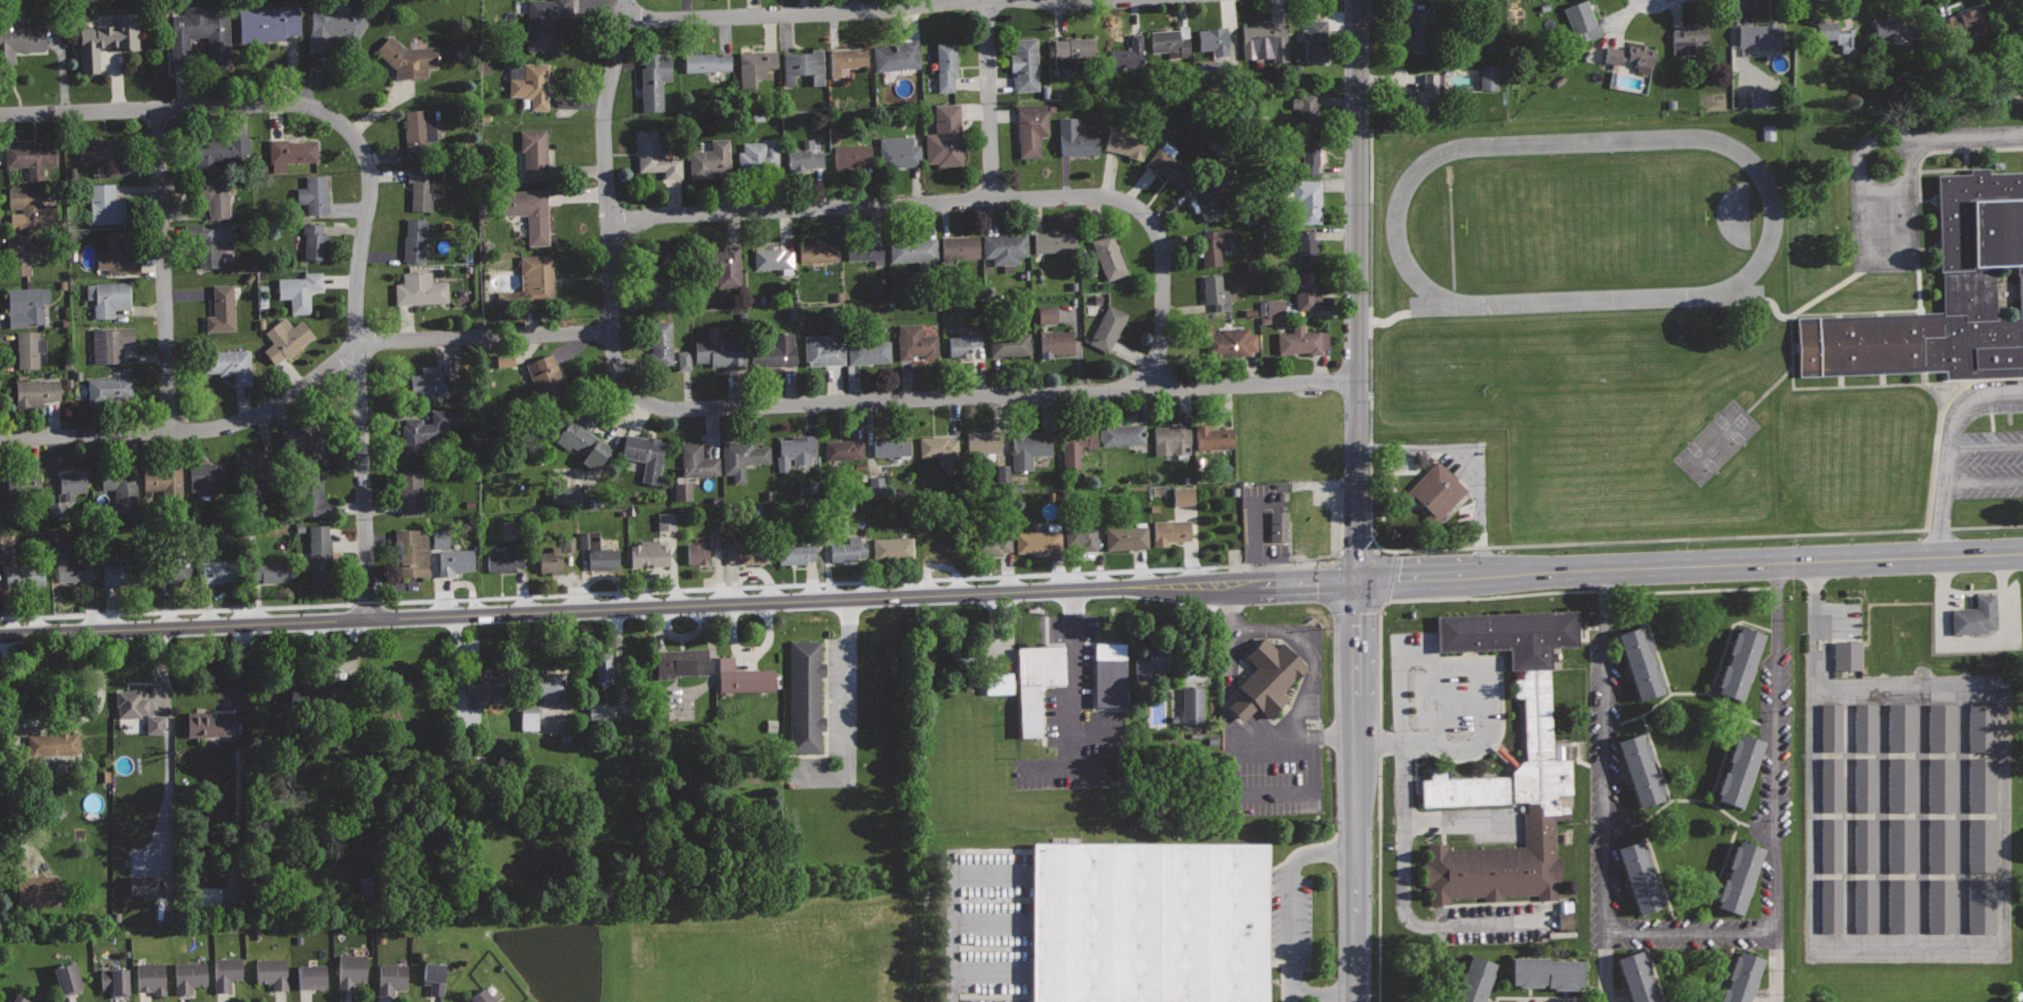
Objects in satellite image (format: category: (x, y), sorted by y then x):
road: (1101, 0)
road: (793, 13)
building: (1583, 21)
building: (1970, 21)
building: (267, 22)
building: (544, 23)
building: (333, 24)
building: (1895, 29)
building: (1419, 32)
building: (1760, 34)
building: (1831, 34)
building: (22, 35)
building: (201, 37)
building: (108, 39)
building: (1316, 39)
building: (1688, 39)
building: (1171, 40)
building: (1214, 40)
building: (1265, 42)
building: (1072, 51)
building: (1129, 54)
building: (897, 55)
building: (1631, 56)
building: (409, 58)
building: (848, 58)
building: (706, 61)
building: (1025, 64)
building: (755, 66)
building: (804, 66)
building: (946, 66)
building: (1488, 77)
building: (654, 79)
building: (530, 82)
building: (1428, 93)
building: (1761, 98)
road: (989, 99)
road: (176, 107)
building: (1306, 107)
building: (1032, 128)
building: (420, 129)
building: (1767, 132)
road: (1968, 135)
building: (946, 136)
building: (1076, 138)
road: (1902, 140)
building: (1125, 143)
road: (1869, 143)
building: (223, 150)
building: (899, 151)
building: (292, 152)
building: (1307, 152)
building: (102, 153)
building: (535, 153)
building: (656, 155)
building: (30, 156)
building: (759, 156)
building: (852, 157)
building: (804, 158)
building: (710, 159)
building: (1167, 165)
building: (425, 186)
building: (314, 194)
building: (218, 197)
building: (1205, 199)
road: (968, 200)
building: (1307, 201)
road: (608, 202)
parking lot: (1884, 203)
building: (105, 204)
building: (31, 205)
building: (529, 212)
road: (1772, 219)
track: (1772, 219)
building: (415, 239)
building: (314, 240)
building: (207, 241)
building: (1055, 242)
building: (1216, 244)
building: (1005, 247)
building: (1309, 247)
building: (959, 248)
building: (914, 249)
building: (818, 251)
building: (866, 252)
building: (21, 253)
building: (117, 254)
building: (1109, 256)
building: (774, 259)
road: (1886, 260)
building: (723, 267)
road: (164, 269)
building: (532, 280)
building: (660, 286)
building: (421, 288)
building: (300, 290)
building: (1306, 291)
road: (1358, 291)
building: (1215, 292)
building: (1984, 294)
building: (108, 296)
building: (26, 304)
building: (222, 307)
building: (1274, 308)
building: (1046, 315)
building: (1108, 328)
building: (287, 338)
building: (1303, 339)
building: (965, 341)
building: (916, 342)
building: (1010, 342)
building: (1230, 342)
building: (111, 343)
building: (661, 343)
building: (1056, 343)
building: (29, 347)
building: (720, 349)
building: (823, 350)
building: (776, 351)
building: (869, 351)
building: (503, 360)
building: (682, 360)
building: (230, 364)
road: (358, 368)
building: (431, 380)
building: (548, 381)
road: (307, 384)
building: (109, 388)
building: (37, 391)
road: (999, 395)
building: (428, 429)
building: (1123, 434)
building: (1213, 437)
building: (311, 438)
building: (583, 438)
building: (1171, 440)
building: (984, 441)
park: (1714, 442)
building: (1076, 444)
building: (891, 447)
building: (1030, 448)
building: (844, 449)
parking lot: (1978, 449)
road: (1986, 449)
building: (796, 451)
building: (942, 451)
road: (1949, 452)
building: (645, 454)
building: (743, 458)
building: (698, 461)
building: (256, 462)
road: (1470, 465)
building: (206, 478)
building: (165, 480)
road: (1984, 480)
building: (120, 482)
building: (73, 483)
building: (22, 485)
building: (876, 485)
building: (1437, 489)
building: (411, 490)
building: (682, 491)
building: (311, 495)
building: (569, 495)
building: (1183, 496)
building: (665, 521)
building: (1280, 525)
building: (1171, 531)
building: (1081, 536)
building: (714, 538)
building: (1127, 538)
building: (438, 539)
road: (1259, 540)
building: (1039, 541)
building: (994, 543)
building: (568, 544)
building: (940, 545)
building: (893, 547)
building: (848, 548)
building: (320, 549)
building: (412, 552)
building: (598, 552)
building: (698, 552)
building: (748, 552)
building: (649, 553)
building: (796, 553)
building: (552, 558)
building: (505, 559)
building: (456, 561)
building: (74, 566)
building: (220, 571)
building: (271, 571)
building: (172, 572)
building: (122, 574)
building: (25, 575)
road: (1011, 591)
building: (1976, 616)
parking lot: (2008, 620)
road: (1231, 642)
road: (1971, 642)
road: (1308, 655)
building: (1848, 655)
building: (962, 659)
building: (1642, 659)
building: (1742, 659)
building: (681, 662)
building: (1151, 663)
road: (1451, 665)
building: (604, 668)
building: (1112, 672)
building: (744, 677)
building: (1267, 678)
road: (1074, 679)
building: (1036, 681)
building: (486, 682)
building: (998, 683)
building: (544, 685)
building: (805, 694)
building: (306, 697)
building: (131, 703)
road: (1440, 704)
building: (1192, 705)
parking lot: (823, 707)
road: (844, 710)
building: (596, 712)
building: (527, 717)
parking lot: (1271, 717)
parking lot: (1076, 718)
building: (208, 724)
building: (1831, 726)
building: (1866, 726)
building: (1943, 727)
building: (1984, 727)
building: (1902, 728)
road: (1298, 739)
building: (57, 742)
road: (1777, 748)
road: (1605, 751)
building: (1941, 755)
building: (1540, 759)
building: (1642, 764)
building: (1741, 766)
road: (1097, 769)
parking lot: (1402, 781)
building: (1834, 784)
building: (1903, 784)
building: (1945, 784)
building: (1984, 784)
building: (1865, 785)
road: (1358, 792)
road: (1251, 797)
parking lot: (1903, 807)
building: (1940, 815)
road: (1461, 819)
building: (1834, 845)
building: (1865, 845)
building: (1903, 845)
building: (1943, 845)
building: (1984, 845)
building: (1643, 872)
road: (990, 873)
building: (1742, 873)
building: (141, 886)
building: (35, 891)
building: (202, 897)
road: (1291, 898)
building: (1833, 904)
building: (1983, 904)
road: (1405, 905)
building: (1903, 905)
building: (1943, 905)
building: (1866, 906)
building: (1565, 920)
road: (990, 923)
parking lot: (990, 924)
building: (1154, 925)
road: (951, 928)
parking lot: (1297, 928)
road: (1691, 933)
road: (1938, 946)
road: (1607, 967)
road: (1776, 967)
building: (352, 969)
building: (1548, 969)
road: (990, 970)
building: (226, 972)
building: (272, 972)
building: (189, 976)
building: (312, 976)
building: (1640, 976)
building: (1742, 976)
building: (152, 977)
building: (392, 977)
building: (435, 977)
building: (1477, 978)
building: (68, 979)
building: (115, 981)
road: (1324, 994)
building: (481, 996)
building: (19, 998)
building: (2021, 999)

